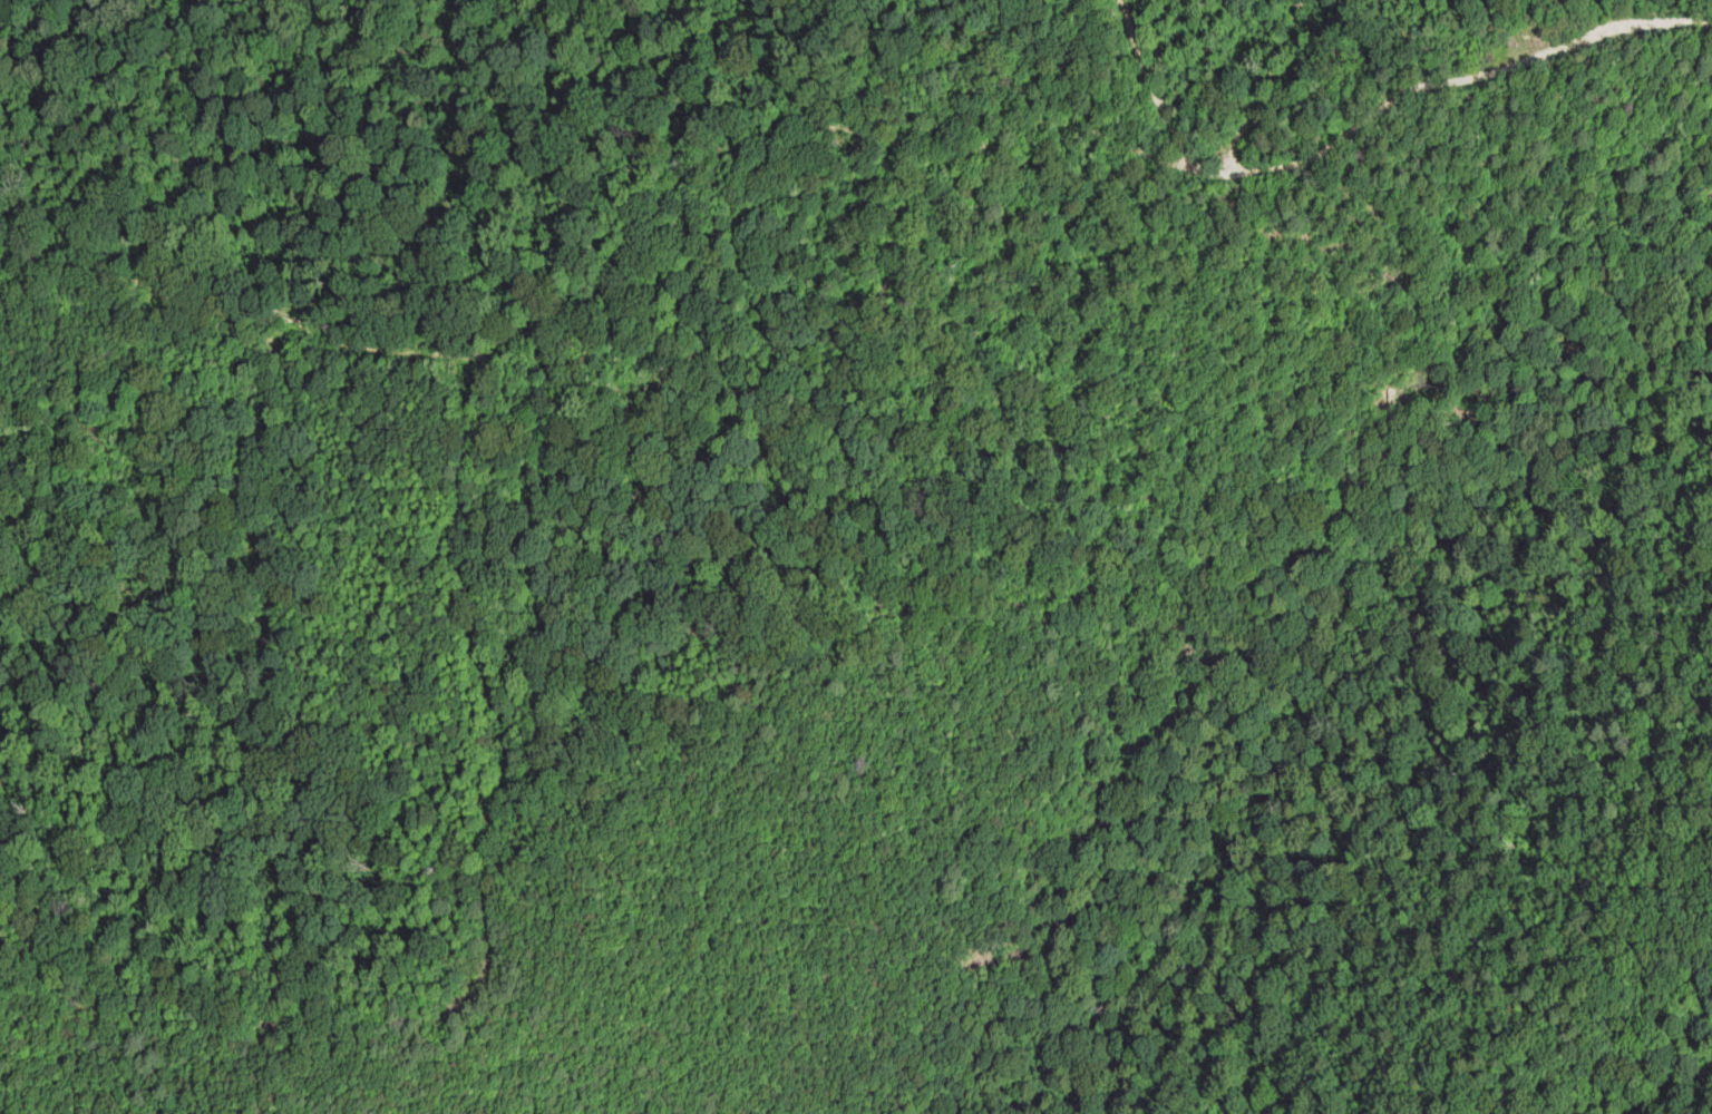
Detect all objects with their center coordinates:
road: (991, 4)
road: (172, 163)

